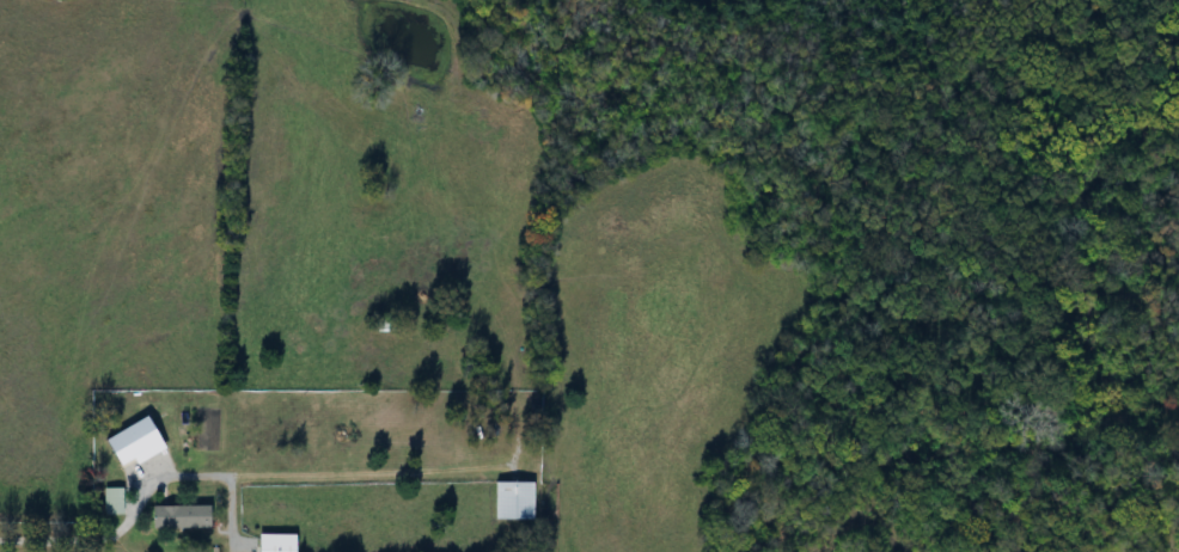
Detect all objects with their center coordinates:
building: (145, 450)
building: (509, 501)
building: (184, 517)
road: (60, 542)
building: (280, 542)

